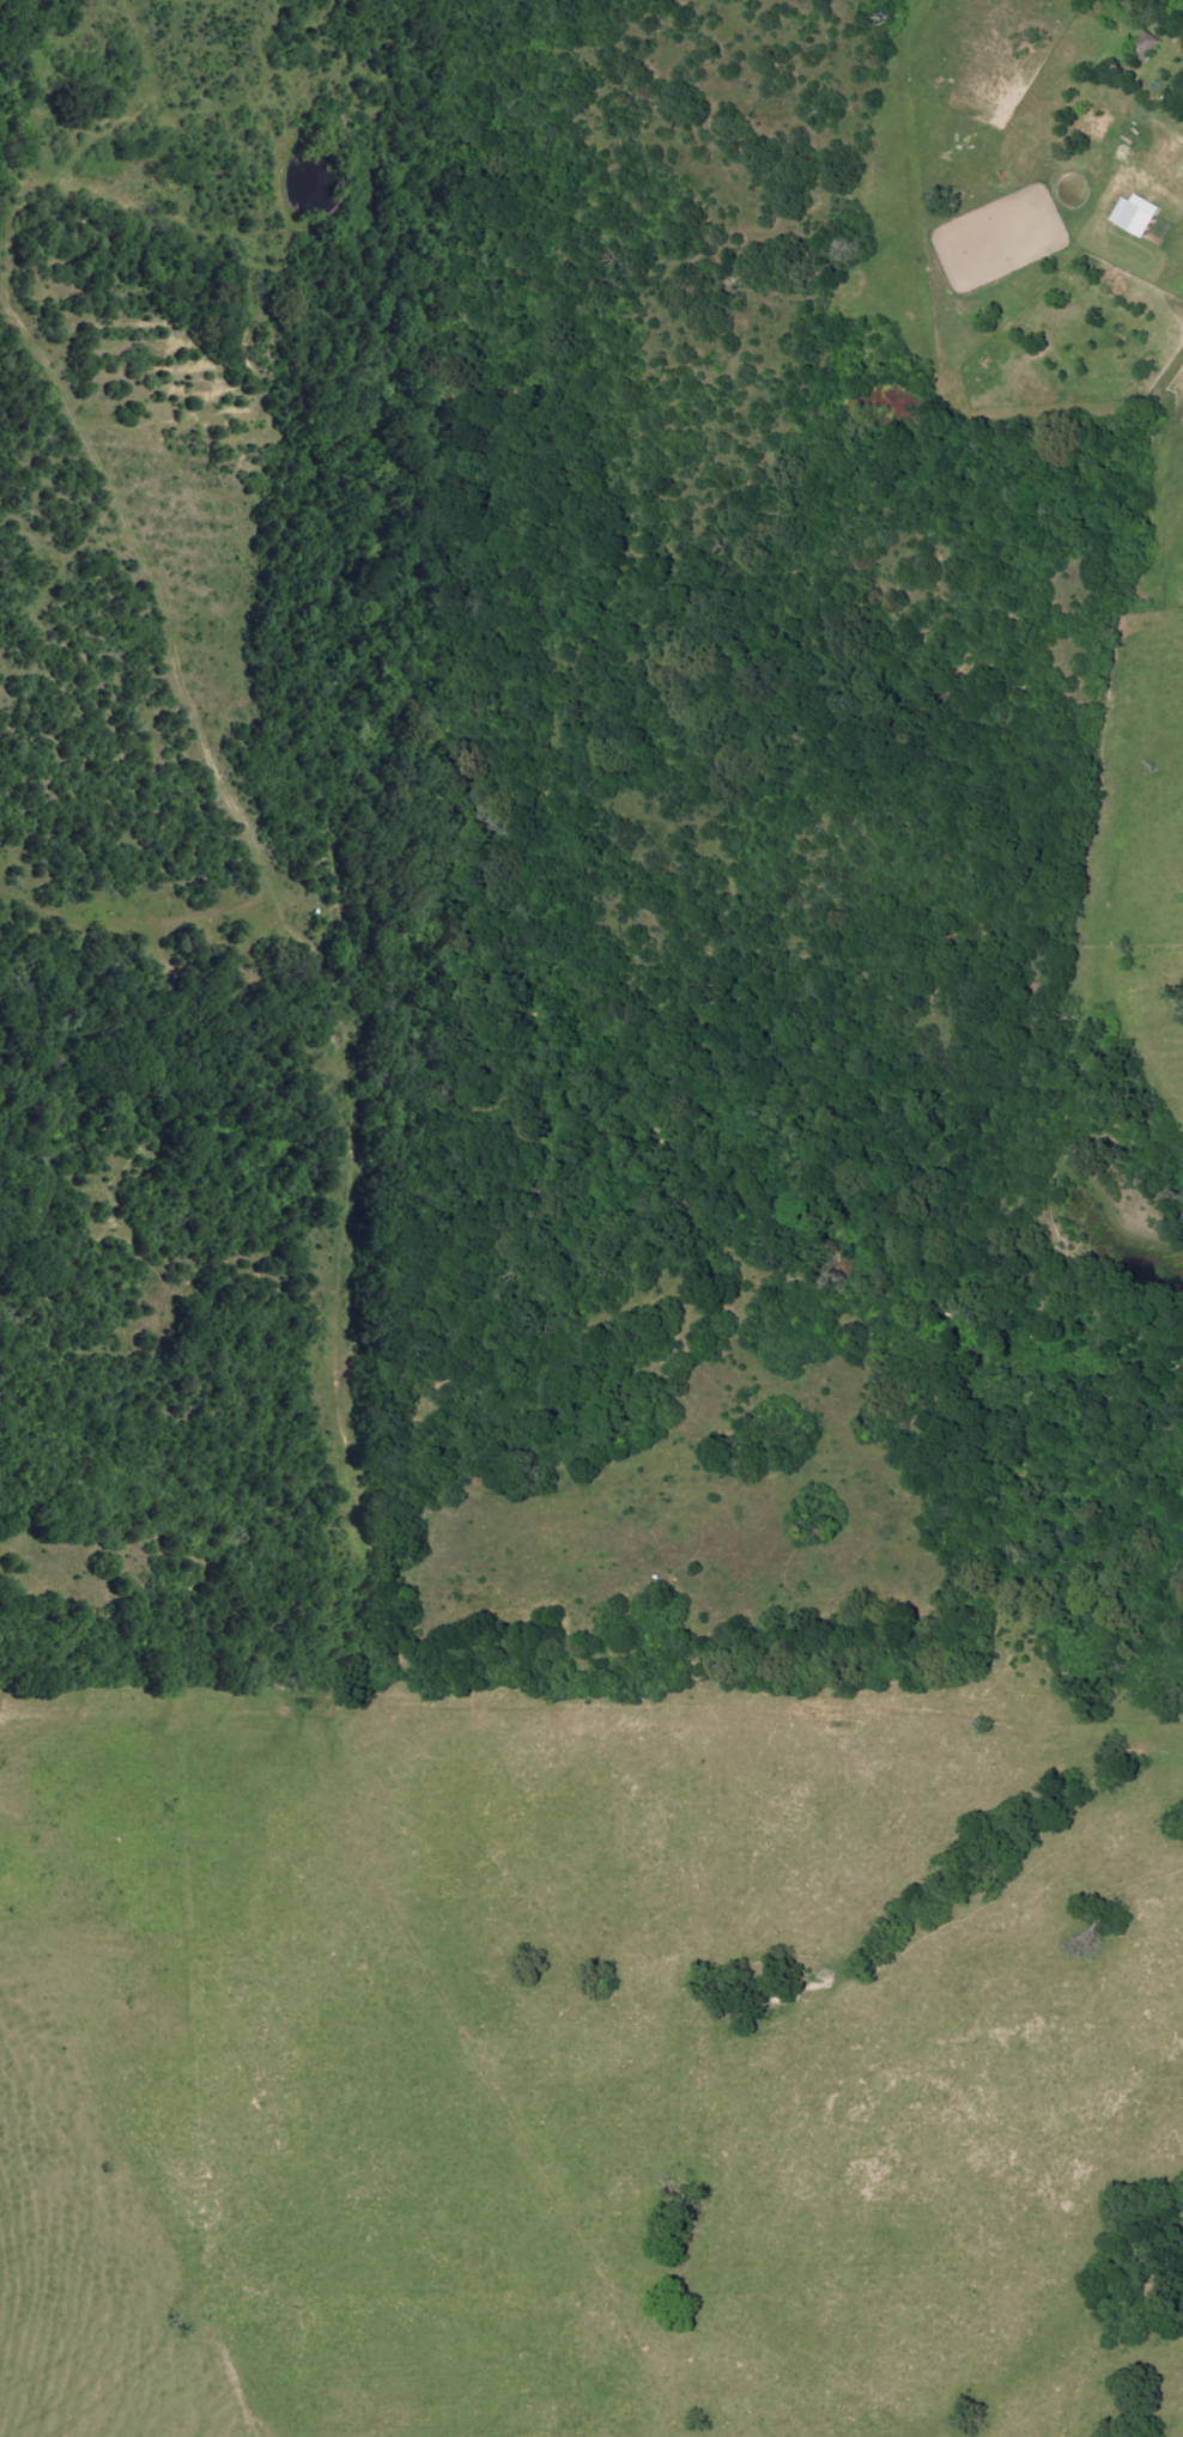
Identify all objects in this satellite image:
building: (1148, 49)
building: (1136, 217)

